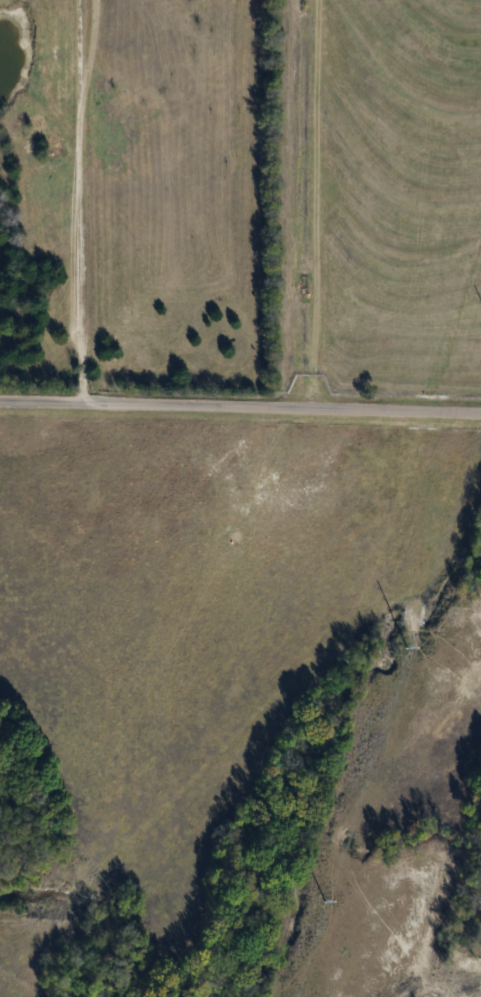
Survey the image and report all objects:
road: (73, 201)
road: (240, 406)
power tower: (411, 660)
power tower: (333, 906)

